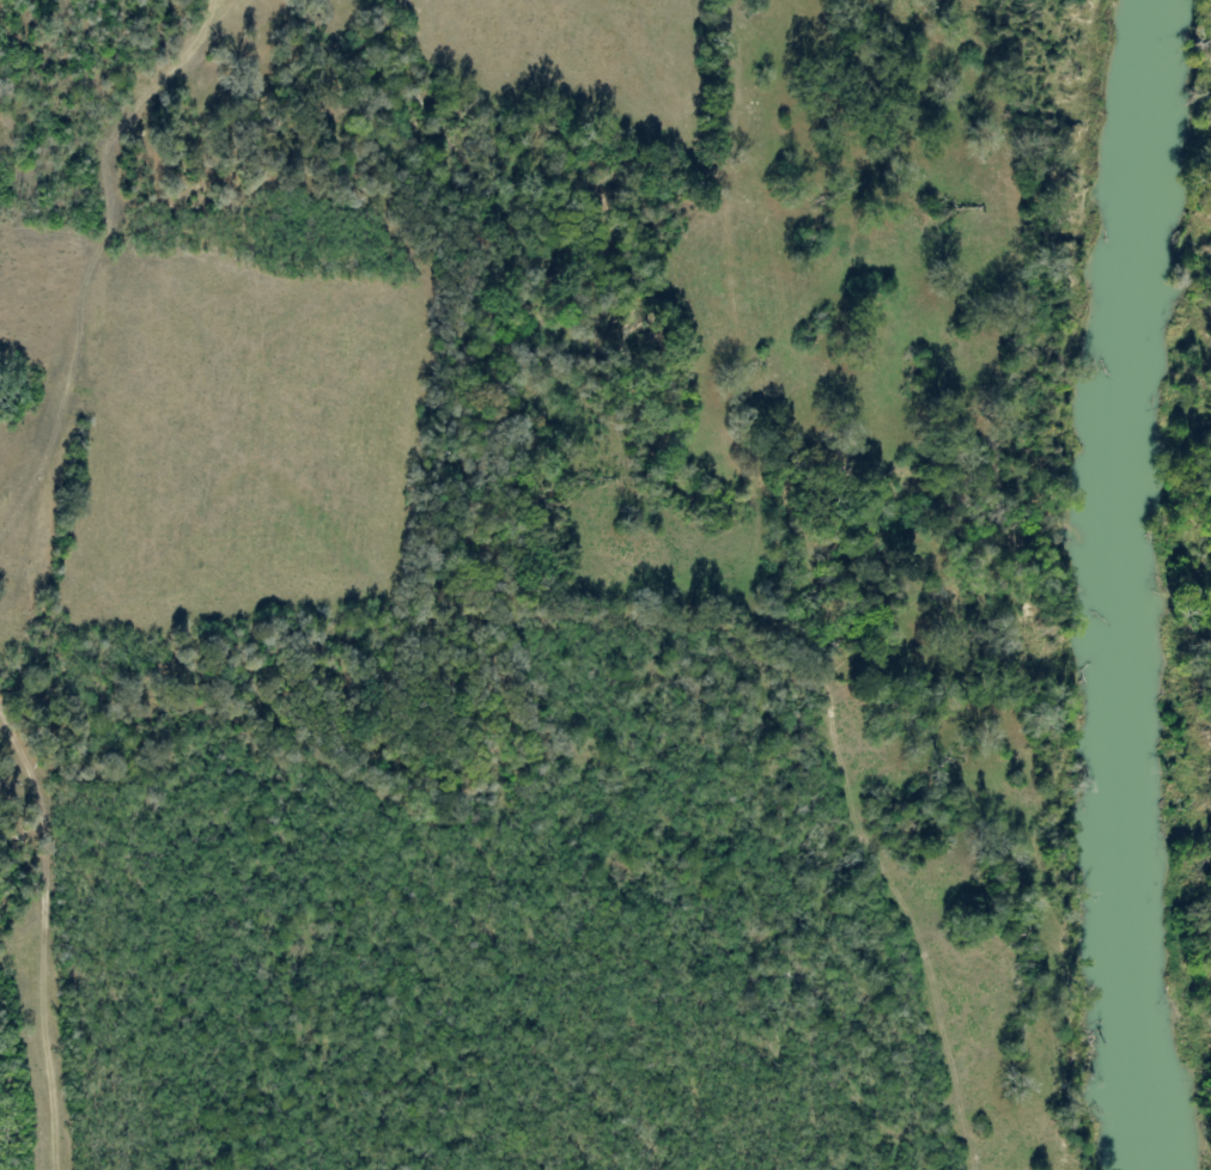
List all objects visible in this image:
river: (1134, 585)

